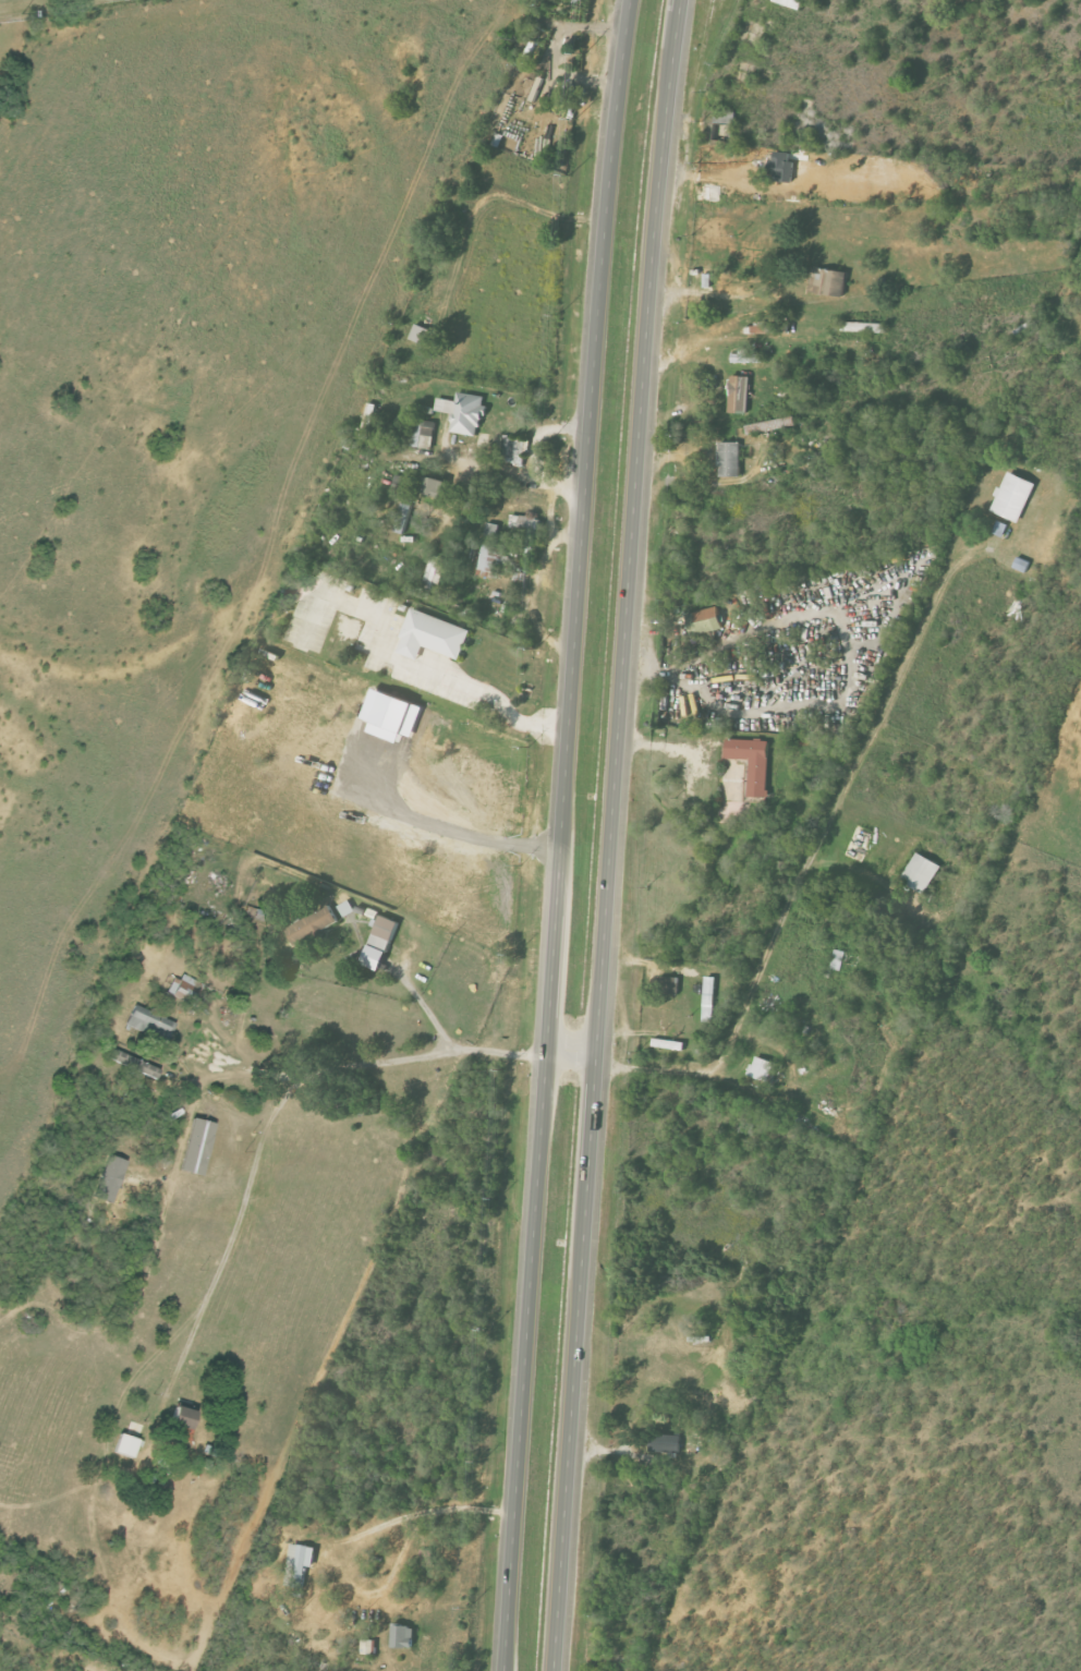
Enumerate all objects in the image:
building: (782, 167)
building: (828, 281)
road: (718, 294)
building: (766, 328)
building: (415, 331)
building: (748, 356)
building: (739, 393)
building: (463, 412)
building: (421, 429)
building: (512, 446)
road: (531, 457)
building: (730, 459)
road: (491, 471)
building: (401, 483)
building: (434, 486)
building: (1012, 496)
building: (403, 513)
building: (491, 530)
building: (491, 558)
building: (433, 571)
building: (704, 620)
building: (434, 634)
road: (401, 662)
building: (752, 762)
road: (562, 834)
road: (616, 834)
road: (811, 855)
building: (921, 873)
building: (345, 909)
building: (311, 925)
building: (379, 943)
building: (837, 960)
building: (668, 985)
building: (182, 986)
road: (420, 1004)
building: (148, 1024)
road: (496, 1052)
road: (573, 1057)
building: (761, 1068)
road: (247, 1071)
road: (190, 1136)
road: (203, 1303)
building: (181, 1416)
building: (664, 1443)
building: (124, 1444)
road: (339, 1540)
building: (299, 1564)
building: (402, 1636)

